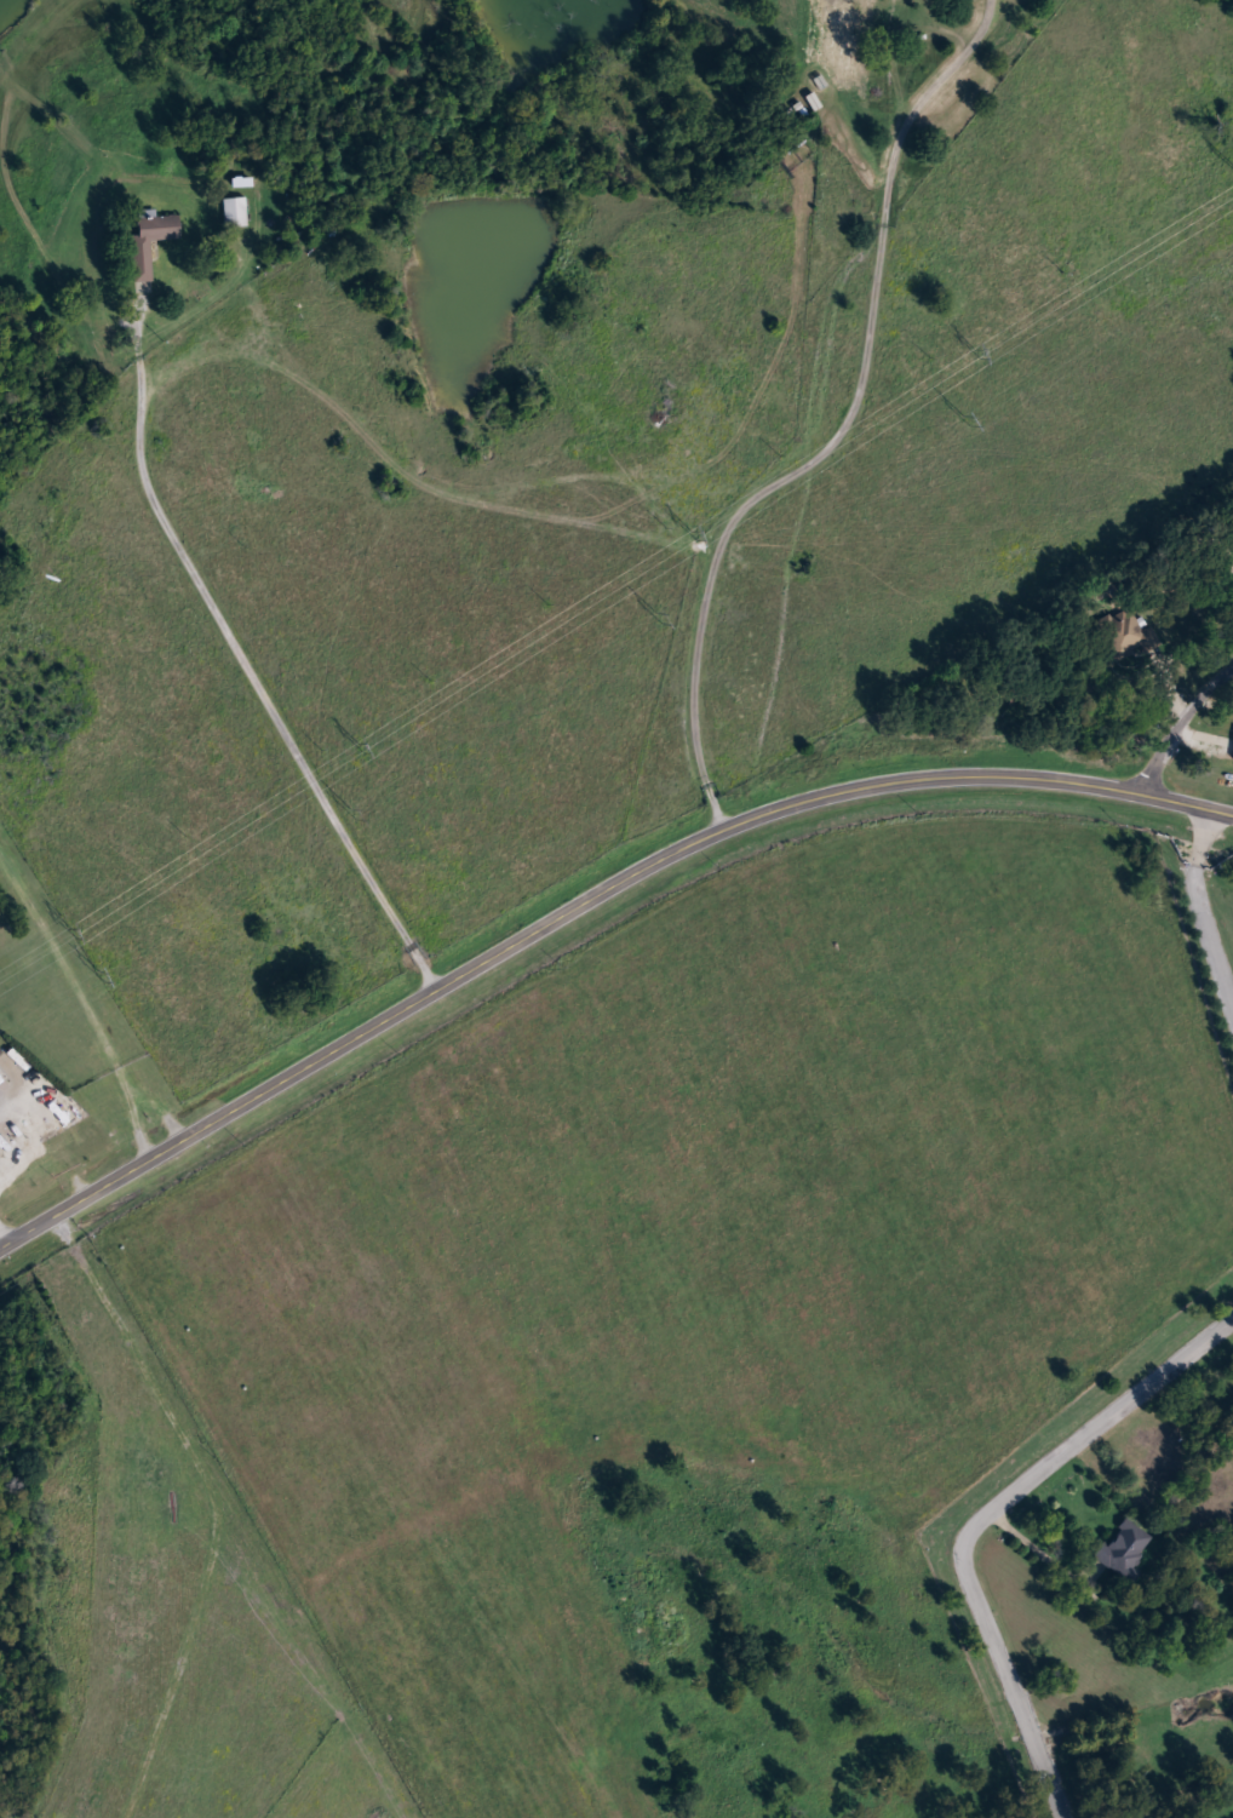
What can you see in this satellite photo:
building: (813, 101)
building: (791, 115)
road: (858, 139)
building: (791, 140)
building: (235, 212)
building: (155, 230)
road: (841, 426)
road: (231, 643)
road: (1181, 724)
road: (589, 900)
road: (1199, 911)
road: (12, 1097)
road: (4, 1227)
road: (213, 1498)
road: (979, 1518)
building: (1125, 1548)

